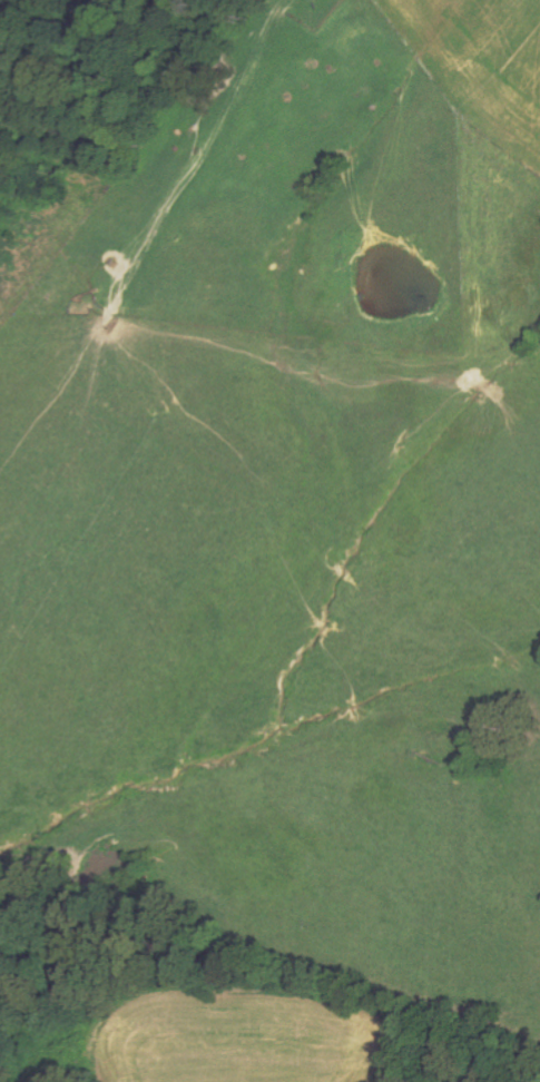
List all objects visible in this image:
road: (130, 274)

